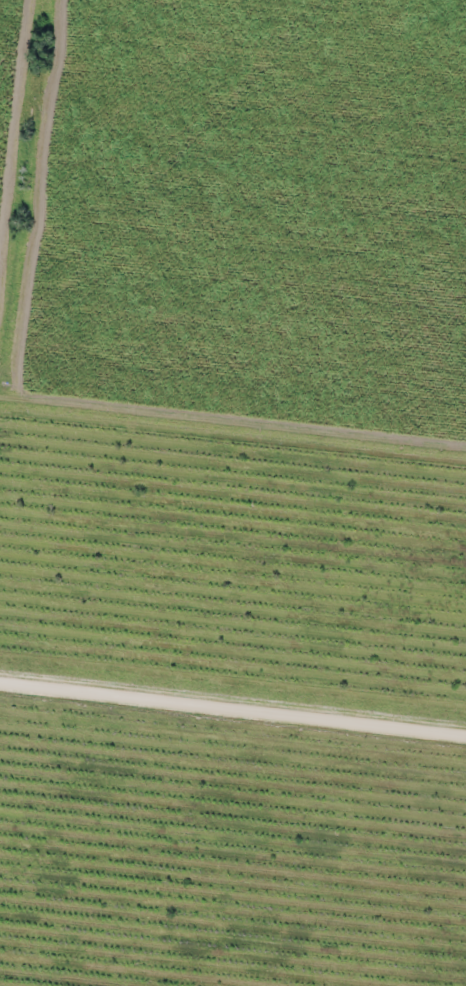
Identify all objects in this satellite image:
road: (233, 713)

